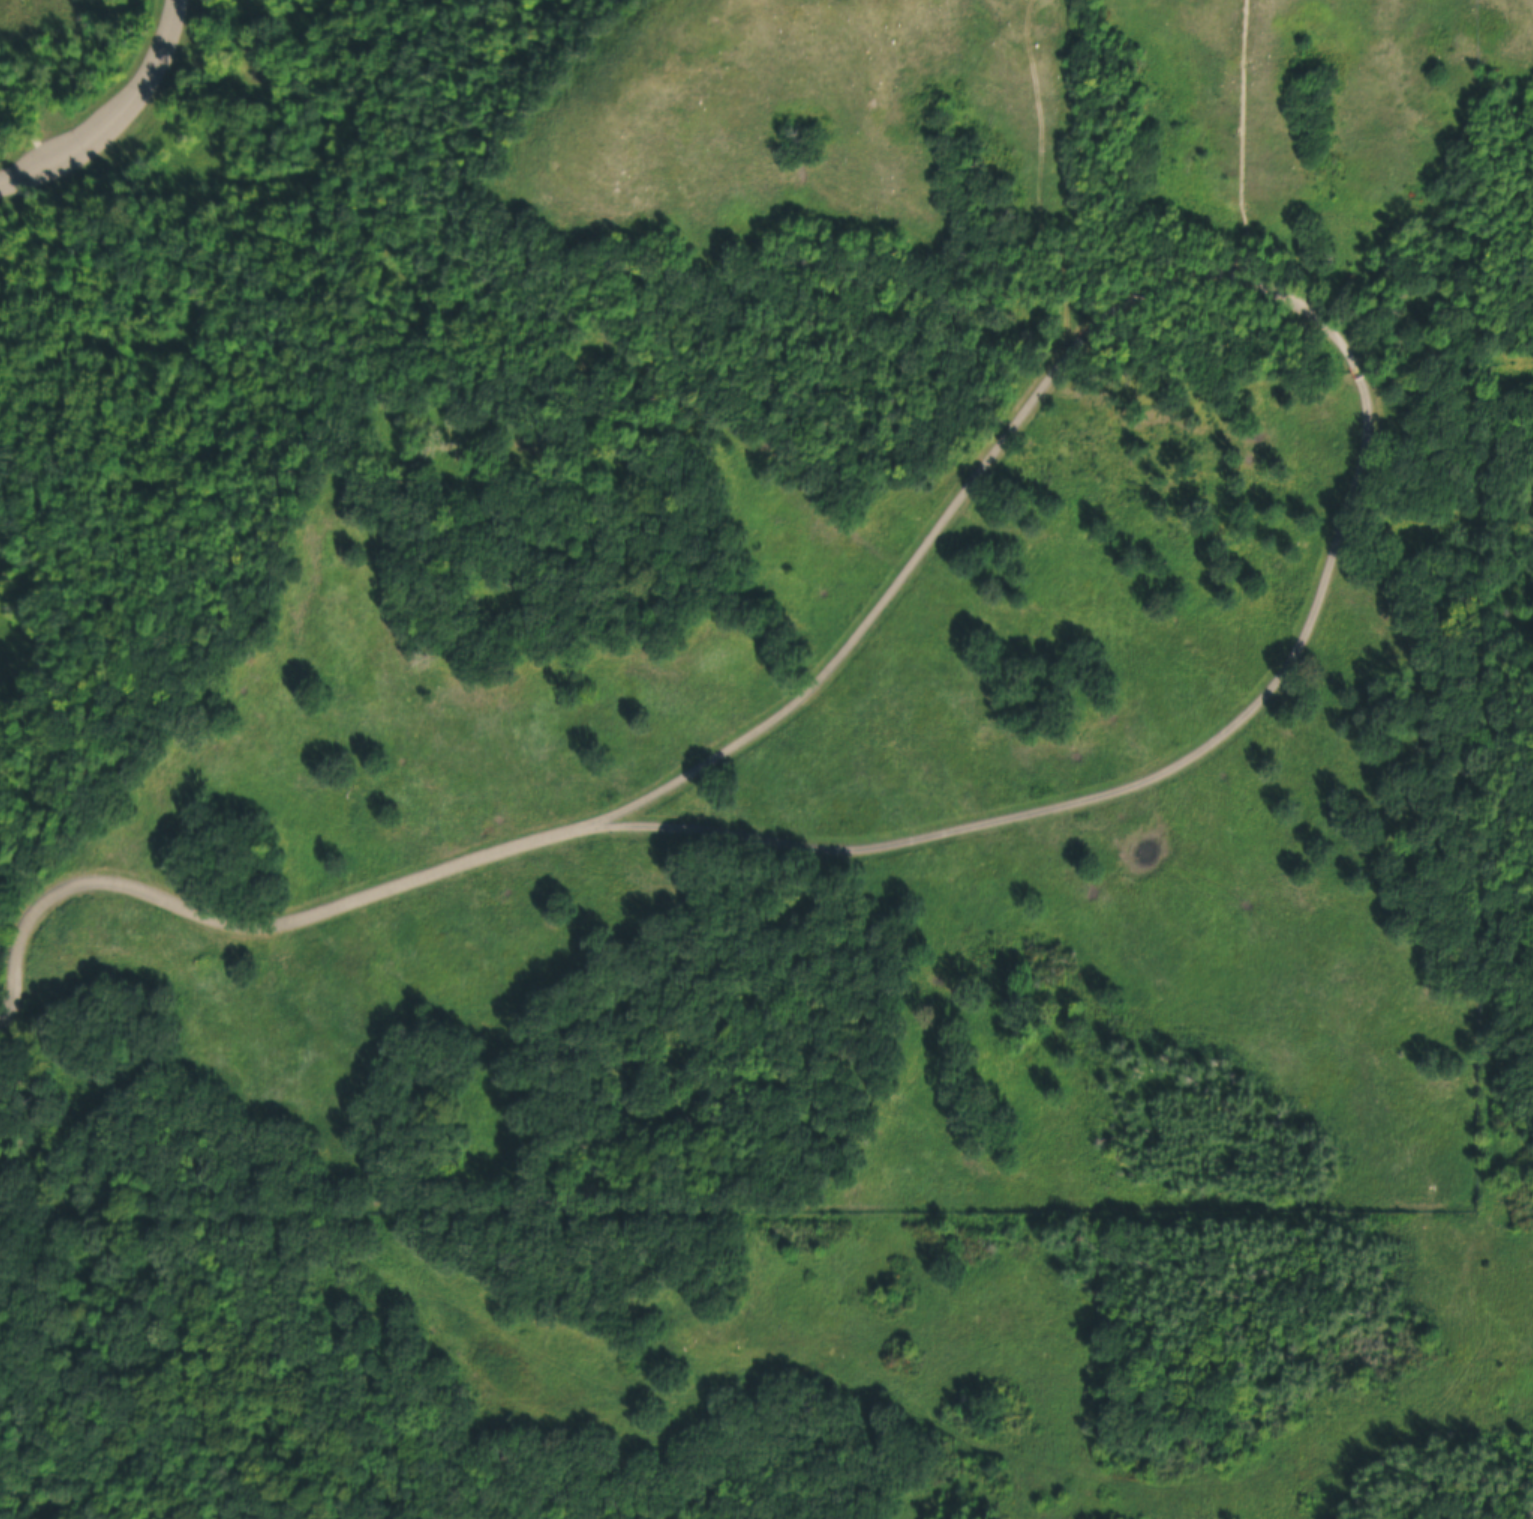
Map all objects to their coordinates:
road: (128, 128)
road: (1242, 144)
road: (1359, 383)
road: (257, 925)

